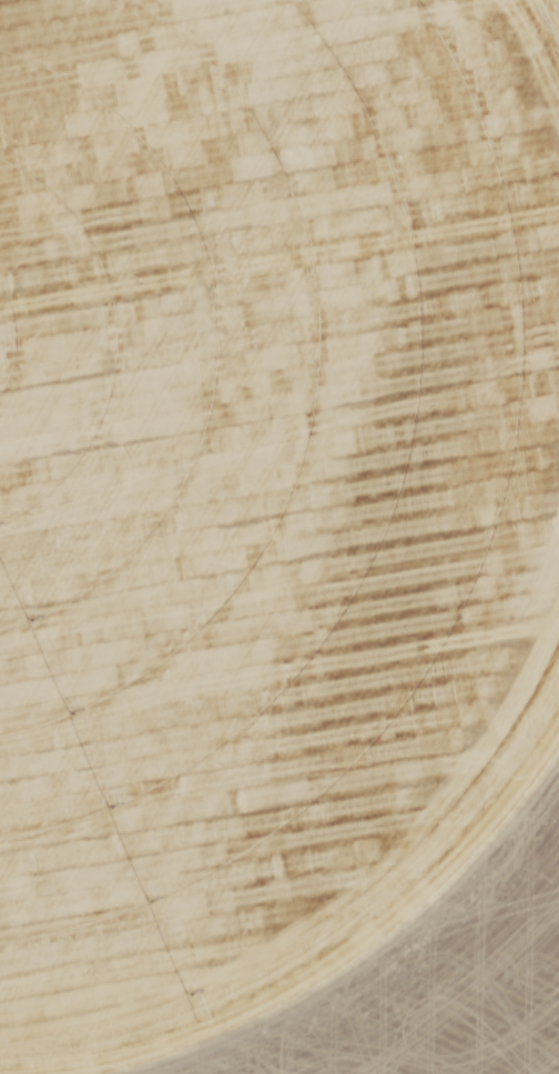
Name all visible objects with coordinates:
crop: (265, 483)

